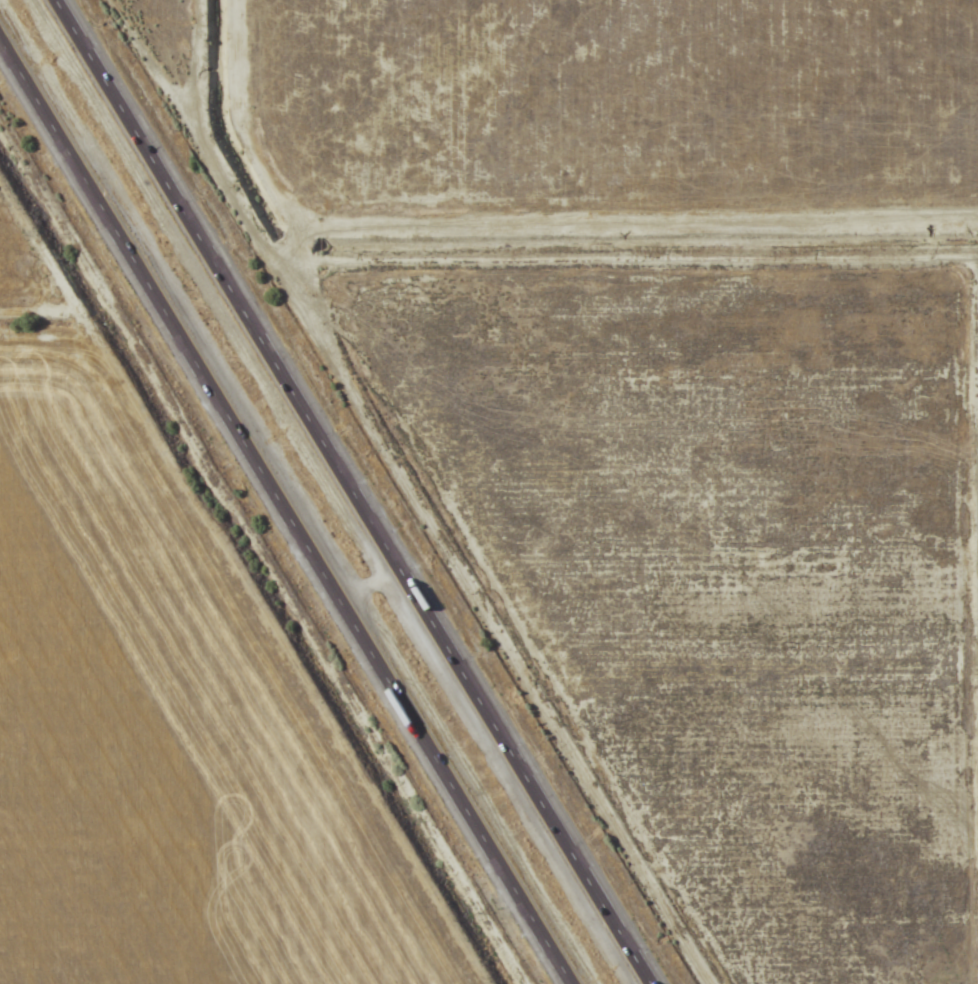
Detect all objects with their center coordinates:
road: (356, 492)
road: (286, 510)

